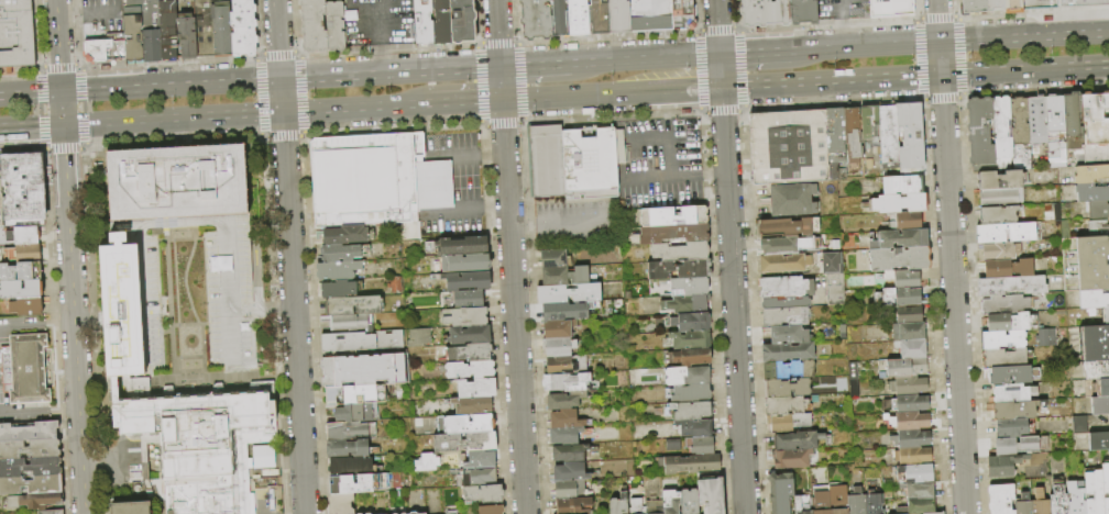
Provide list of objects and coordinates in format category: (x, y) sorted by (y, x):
road: (715, 0)
building: (1079, 3)
building: (992, 4)
building: (1037, 4)
road: (841, 7)
building: (973, 7)
building: (1011, 7)
building: (890, 9)
building: (802, 11)
road: (101, 13)
building: (764, 13)
road: (70, 14)
building: (681, 14)
building: (648, 15)
building: (577, 16)
building: (597, 16)
building: (617, 16)
building: (535, 19)
building: (558, 19)
building: (461, 21)
road: (936, 21)
road: (380, 22)
building: (422, 22)
building: (440, 22)
parking lot: (380, 23)
building: (312, 25)
building: (334, 26)
building: (202, 27)
building: (220, 29)
building: (242, 29)
building: (132, 30)
building: (167, 30)
building: (151, 31)
road: (842, 31)
building: (15, 34)
building: (186, 35)
road: (1023, 37)
road: (276, 40)
road: (718, 43)
traffic signals: (938, 43)
road: (57, 46)
road: (871, 46)
building: (99, 47)
road: (798, 51)
road: (754, 53)
traffic signals: (720, 55)
road: (656, 58)
road: (940, 58)
road: (381, 59)
road: (581, 64)
road: (534, 66)
traffic signals: (499, 68)
road: (1024, 69)
road: (389, 74)
traffic signals: (941, 75)
road: (875, 78)
traffic signals: (279, 80)
road: (765, 85)
road: (169, 87)
traffic signals: (721, 87)
road: (684, 88)
road: (617, 92)
traffic signals: (61, 93)
road: (30, 94)
road: (279, 96)
road: (542, 97)
traffic signals: (501, 100)
road: (466, 101)
road: (665, 104)
road: (356, 108)
road: (61, 109)
traffic signals: (281, 112)
road: (171, 119)
building: (869, 120)
building: (1037, 121)
building: (1073, 122)
road: (30, 125)
traffic signals: (62, 125)
road: (723, 125)
building: (1002, 127)
building: (1095, 130)
building: (1021, 132)
building: (1055, 132)
building: (979, 133)
building: (889, 135)
building: (910, 136)
building: (853, 138)
building: (835, 144)
building: (787, 146)
road: (667, 147)
road: (492, 155)
road: (459, 157)
building: (572, 163)
building: (1091, 175)
road: (679, 176)
building: (1001, 180)
building: (363, 181)
building: (177, 182)
building: (904, 183)
road: (110, 186)
building: (435, 186)
building: (23, 191)
building: (1092, 192)
building: (1001, 197)
building: (792, 201)
building: (898, 203)
building: (1, 205)
road: (493, 205)
building: (1098, 211)
road: (451, 214)
road: (179, 215)
building: (999, 215)
building: (674, 216)
building: (905, 221)
road: (572, 223)
road: (180, 224)
road: (525, 227)
building: (787, 228)
building: (1009, 233)
building: (674, 234)
building: (348, 235)
building: (26, 236)
road: (194, 236)
building: (899, 239)
building: (462, 246)
building: (781, 246)
building: (1092, 248)
building: (681, 252)
building: (1001, 252)
building: (340, 254)
building: (28, 255)
road: (509, 256)
building: (554, 259)
building: (900, 259)
building: (828, 262)
building: (465, 264)
building: (784, 264)
road: (223, 266)
road: (255, 266)
building: (1008, 268)
building: (680, 270)
building: (30, 271)
building: (338, 271)
building: (1092, 271)
building: (566, 277)
building: (902, 279)
building: (466, 282)
building: (1011, 286)
building: (689, 287)
building: (21, 290)
building: (339, 290)
building: (786, 292)
building: (569, 293)
road: (168, 294)
road: (953, 294)
building: (1094, 295)
road: (144, 298)
building: (900, 298)
road: (161, 300)
building: (469, 300)
building: (687, 304)
road: (191, 305)
building: (1006, 305)
building: (353, 306)
building: (28, 308)
road: (259, 308)
building: (121, 309)
building: (569, 311)
road: (292, 313)
building: (909, 315)
building: (786, 316)
building: (1106, 316)
building: (466, 317)
road: (73, 319)
road: (144, 319)
road: (122, 320)
road: (88, 322)
building: (1011, 322)
building: (349, 323)
building: (691, 323)
road: (57, 325)
road: (185, 325)
road: (21, 327)
building: (559, 329)
building: (907, 332)
building: (470, 335)
building: (788, 335)
road: (228, 337)
building: (416, 337)
road: (735, 338)
building: (1002, 339)
building: (689, 340)
building: (362, 342)
building: (1095, 344)
building: (559, 347)
building: (912, 349)
building: (787, 353)
building: (470, 354)
road: (186, 357)
building: (691, 357)
building: (1006, 358)
building: (564, 365)
road: (235, 368)
building: (902, 368)
building: (470, 370)
building: (788, 370)
building: (1096, 370)
building: (25, 371)
road: (224, 371)
building: (365, 371)
building: (634, 376)
building: (689, 376)
building: (1012, 376)
building: (570, 383)
building: (910, 387)
building: (1097, 388)
building: (477, 389)
building: (787, 389)
building: (692, 393)
building: (1013, 393)
building: (356, 394)
building: (566, 401)
building: (908, 404)
building: (473, 406)
building: (788, 406)
building: (1100, 406)
road: (64, 409)
building: (1015, 410)
road: (25, 411)
building: (691, 411)
building: (356, 413)
building: (567, 421)
building: (909, 422)
building: (788, 423)
building: (470, 424)
building: (694, 428)
building: (1014, 428)
building: (349, 432)
building: (30, 433)
building: (568, 436)
building: (912, 439)
building: (798, 442)
building: (1099, 442)
building: (465, 443)
building: (205, 444)
building: (670, 445)
building: (701, 446)
building: (1021, 446)
building: (30, 449)
building: (340, 450)
building: (569, 454)
building: (261, 456)
building: (913, 457)
building: (791, 458)
building: (481, 460)
building: (424, 462)
building: (690, 465)
road: (124, 466)
building: (1004, 466)
building: (30, 467)
building: (350, 467)
road: (95, 473)
building: (570, 473)
building: (915, 474)
building: (483, 476)
building: (358, 484)
building: (31, 485)
building: (1106, 487)
building: (1018, 489)
building: (570, 490)
building: (919, 491)
building: (1094, 491)
building: (782, 493)
building: (483, 494)
building: (711, 495)
building: (1076, 496)
building: (1001, 499)
building: (838, 500)
building: (1058, 500)
building: (40, 501)
building: (672, 502)
building: (690, 502)
building: (857, 502)
road: (259, 503)
building: (803, 503)
building: (822, 503)
building: (875, 503)
building: (1041, 503)
building: (341, 504)
building: (619, 505)
building: (1024, 505)
building: (573, 506)
building: (921, 506)
building: (130, 507)
building: (637, 507)
building: (492, 510)
building: (656, 510)
building: (52, 512)
building: (413, 513)
building: (935, 513)

